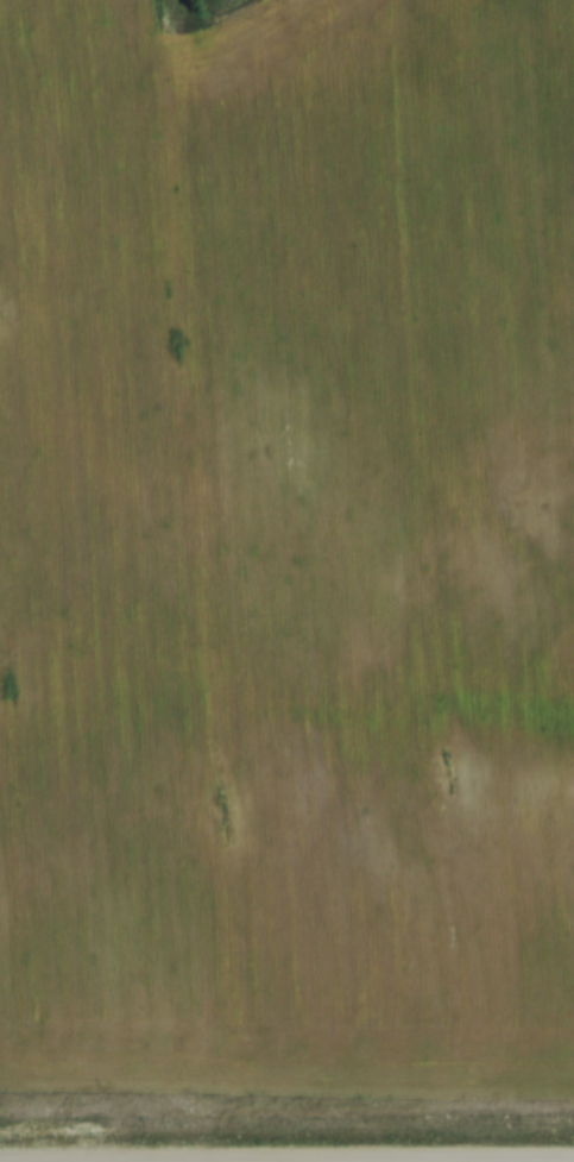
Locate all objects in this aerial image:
road: (286, 1150)

